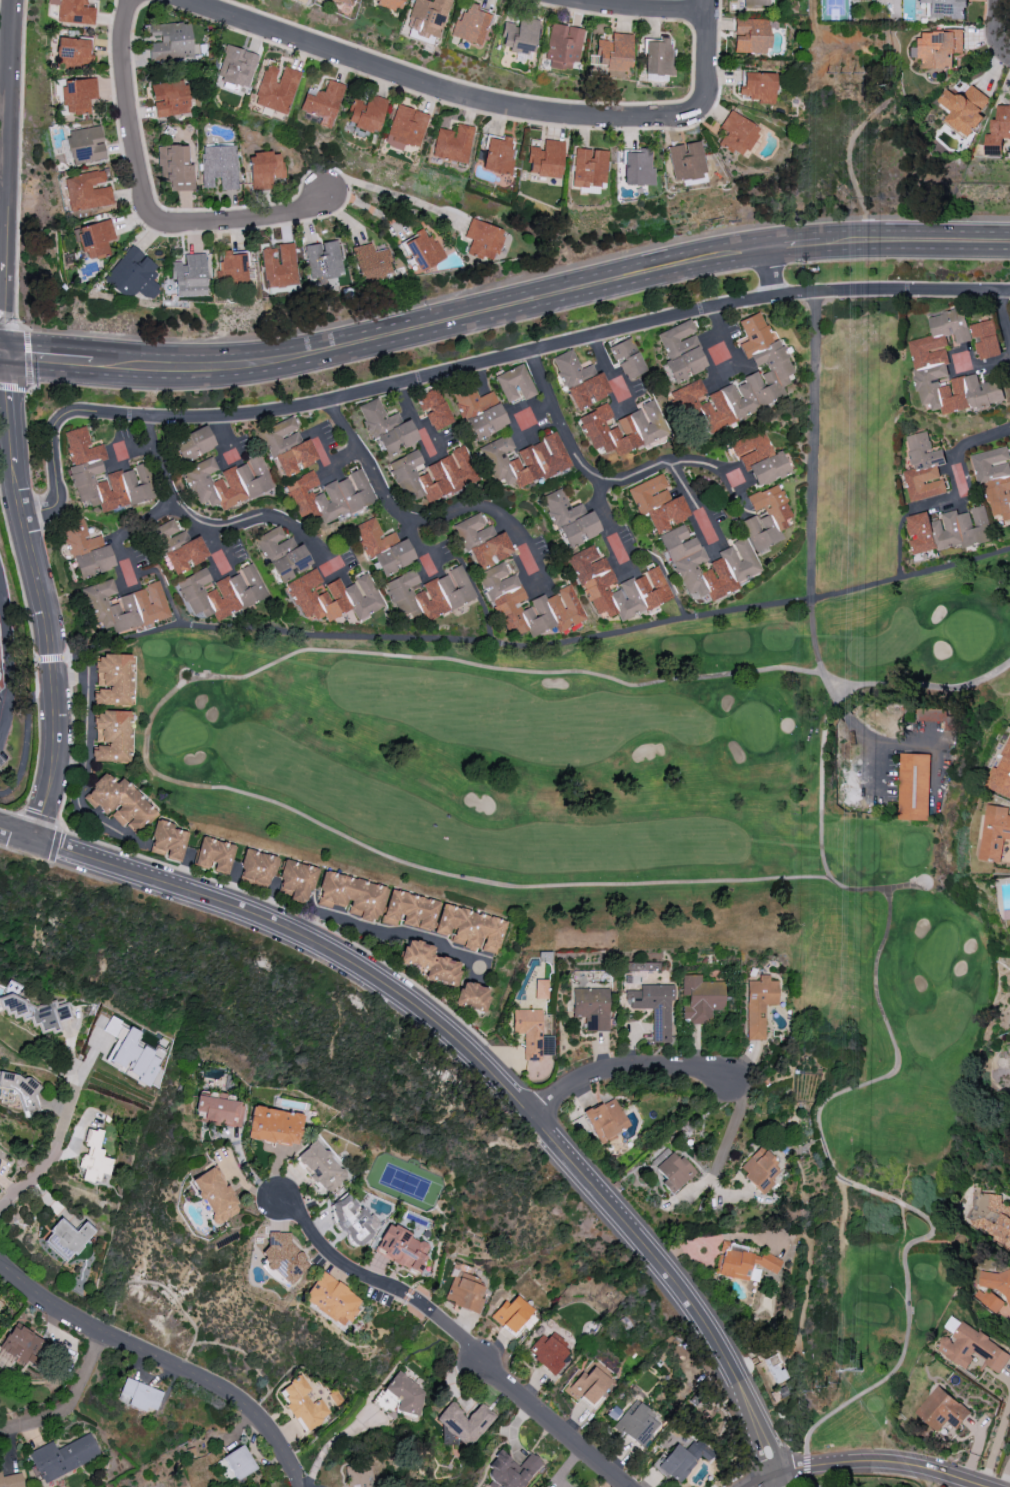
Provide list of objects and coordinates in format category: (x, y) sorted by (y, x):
building: (346, 1)
building: (758, 3)
building: (390, 4)
road: (646, 7)
building: (945, 8)
building: (74, 11)
building: (472, 25)
road: (1000, 26)
building: (520, 35)
building: (751, 36)
building: (170, 40)
building: (563, 46)
building: (937, 48)
building: (614, 52)
building: (72, 53)
building: (657, 56)
building: (236, 67)
power tower: (840, 70)
building: (758, 87)
building: (277, 88)
power tower: (876, 88)
building: (77, 95)
building: (170, 98)
building: (323, 102)
road: (489, 104)
building: (963, 108)
building: (367, 113)
building: (406, 127)
building: (998, 130)
building: (737, 133)
building: (453, 143)
building: (85, 145)
building: (498, 155)
building: (546, 159)
building: (686, 161)
building: (220, 166)
building: (175, 167)
building: (590, 167)
building: (638, 167)
building: (265, 169)
road: (11, 176)
road: (5, 183)
building: (87, 191)
road: (146, 193)
building: (95, 239)
building: (483, 240)
road: (914, 242)
road: (794, 247)
building: (423, 249)
building: (323, 260)
building: (370, 262)
building: (279, 265)
building: (232, 268)
building: (133, 274)
road: (771, 274)
building: (189, 276)
road: (1005, 311)
road: (432, 325)
road: (728, 335)
building: (985, 338)
road: (3, 351)
building: (680, 352)
traffic signals: (6, 353)
road: (3, 354)
road: (48, 357)
building: (627, 358)
road: (29, 360)
road: (475, 367)
building: (570, 368)
building: (948, 368)
road: (982, 369)
road: (612, 374)
building: (749, 378)
building: (515, 384)
building: (587, 391)
building: (686, 393)
road: (442, 398)
building: (434, 409)
building: (480, 412)
road: (535, 416)
road: (414, 421)
building: (387, 428)
building: (622, 428)
road: (226, 441)
building: (194, 443)
road: (811, 446)
building: (287, 447)
building: (751, 448)
road: (957, 448)
road: (320, 452)
building: (523, 460)
road: (136, 461)
road: (342, 466)
building: (922, 467)
building: (85, 469)
building: (768, 469)
building: (432, 475)
road: (596, 480)
building: (227, 482)
building: (995, 482)
road: (740, 495)
building: (329, 496)
building: (657, 503)
road: (696, 505)
building: (766, 518)
road: (153, 519)
building: (570, 520)
road: (610, 524)
road: (413, 528)
building: (948, 529)
road: (217, 530)
building: (482, 541)
road: (422, 546)
building: (179, 547)
road: (228, 547)
building: (383, 547)
building: (87, 549)
building: (282, 554)
road: (119, 558)
building: (733, 561)
road: (347, 568)
road: (540, 574)
building: (643, 583)
road: (876, 584)
building: (221, 592)
building: (429, 594)
road: (44, 595)
building: (334, 597)
building: (555, 598)
building: (124, 606)
road: (439, 642)
road: (9, 644)
road: (34, 653)
road: (51, 658)
building: (2, 666)
building: (112, 680)
building: (937, 717)
road: (4, 725)
building: (111, 736)
road: (870, 740)
road: (75, 741)
parking lot: (3, 750)
building: (1001, 773)
road: (822, 780)
building: (913, 786)
building: (119, 803)
park: (700, 817)
road: (59, 824)
building: (995, 832)
building: (167, 840)
building: (214, 855)
building: (257, 867)
road: (405, 867)
building: (296, 880)
road: (903, 887)
building: (351, 896)
building: (408, 910)
building: (469, 929)
road: (381, 930)
building: (429, 963)
building: (541, 989)
building: (472, 996)
building: (701, 999)
building: (759, 1005)
building: (654, 1007)
building: (592, 1008)
building: (37, 1013)
building: (532, 1033)
road: (471, 1051)
building: (131, 1053)
road: (628, 1070)
building: (23, 1091)
building: (219, 1111)
building: (606, 1119)
building: (274, 1125)
road: (64, 1128)
road: (729, 1133)
building: (94, 1157)
road: (246, 1165)
building: (320, 1167)
building: (759, 1169)
building: (672, 1170)
building: (214, 1195)
building: (352, 1218)
building: (991, 1218)
building: (67, 1239)
building: (402, 1248)
building: (282, 1256)
road: (337, 1257)
building: (744, 1264)
building: (993, 1288)
building: (464, 1294)
building: (332, 1299)
building: (512, 1313)
building: (21, 1345)
building: (972, 1348)
building: (547, 1353)
road: (161, 1362)
building: (775, 1367)
power tower: (865, 1374)
building: (589, 1385)
power tower: (829, 1388)
road: (514, 1392)
building: (406, 1393)
building: (138, 1395)
road: (69, 1402)
building: (303, 1403)
building: (941, 1409)
building: (465, 1422)
building: (637, 1423)
road: (996, 1439)
road: (331, 1444)
building: (63, 1457)
building: (681, 1460)
road: (885, 1461)
road: (807, 1467)
building: (511, 1470)
building: (358, 1475)
road: (928, 1476)
building: (11, 1480)
road: (765, 1480)
road: (778, 1480)
road: (813, 1484)

